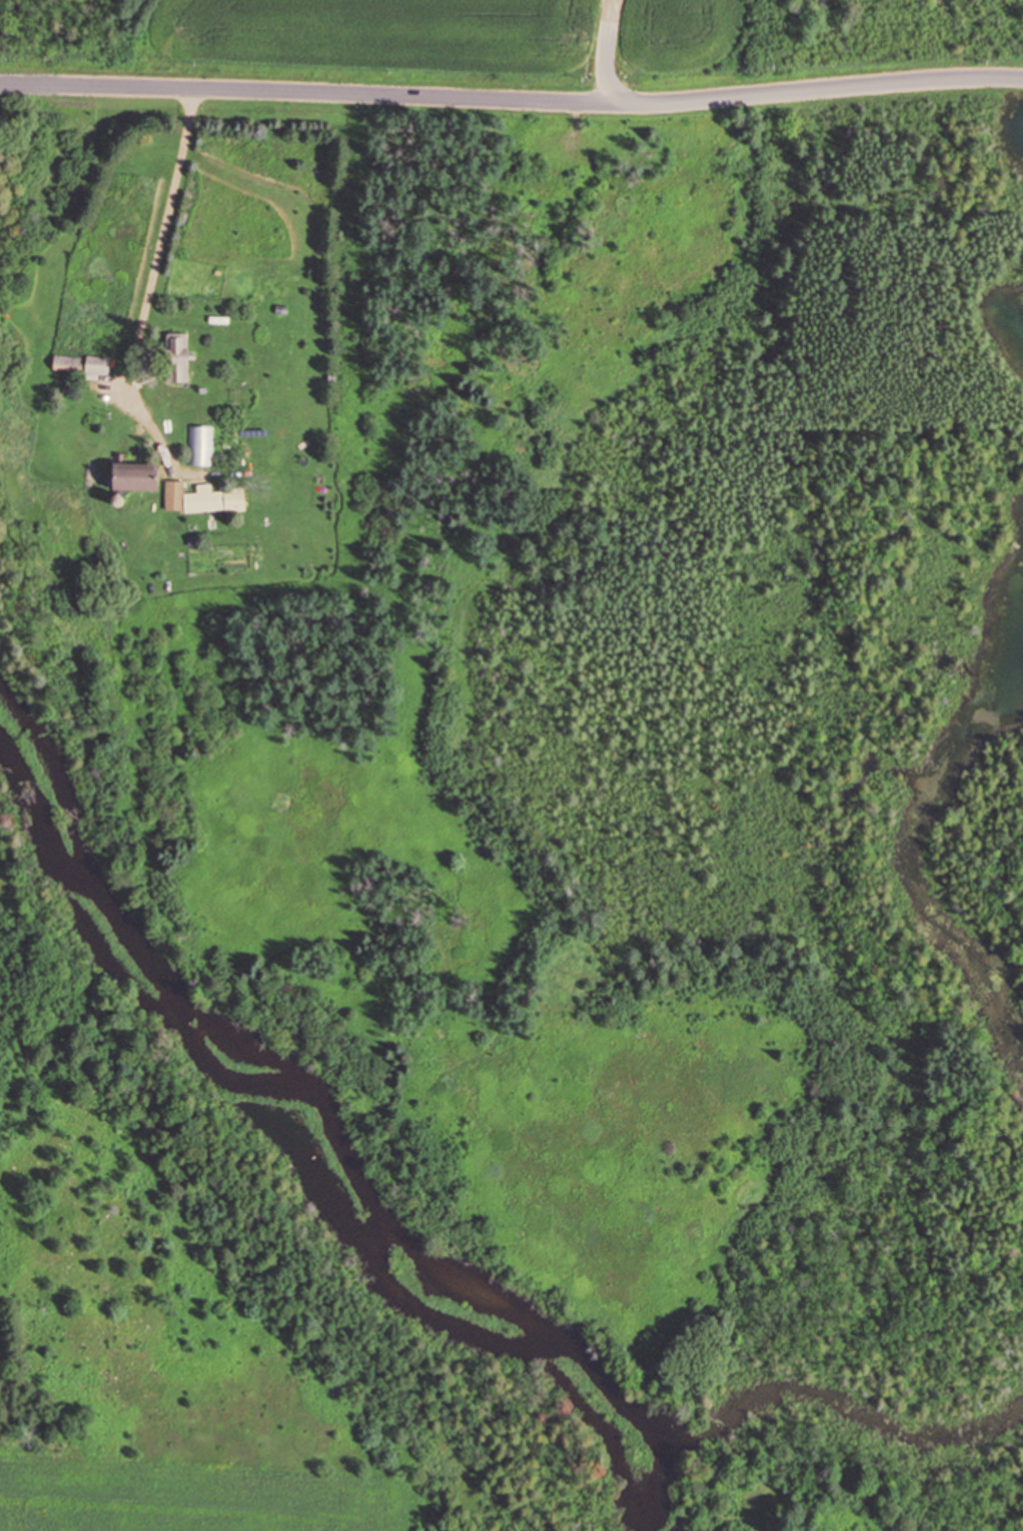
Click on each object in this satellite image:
quarry: (506, 40)
road: (511, 98)
building: (175, 356)
building: (65, 362)
building: (95, 364)
building: (201, 445)
building: (131, 475)
building: (191, 498)
river: (342, 1132)

